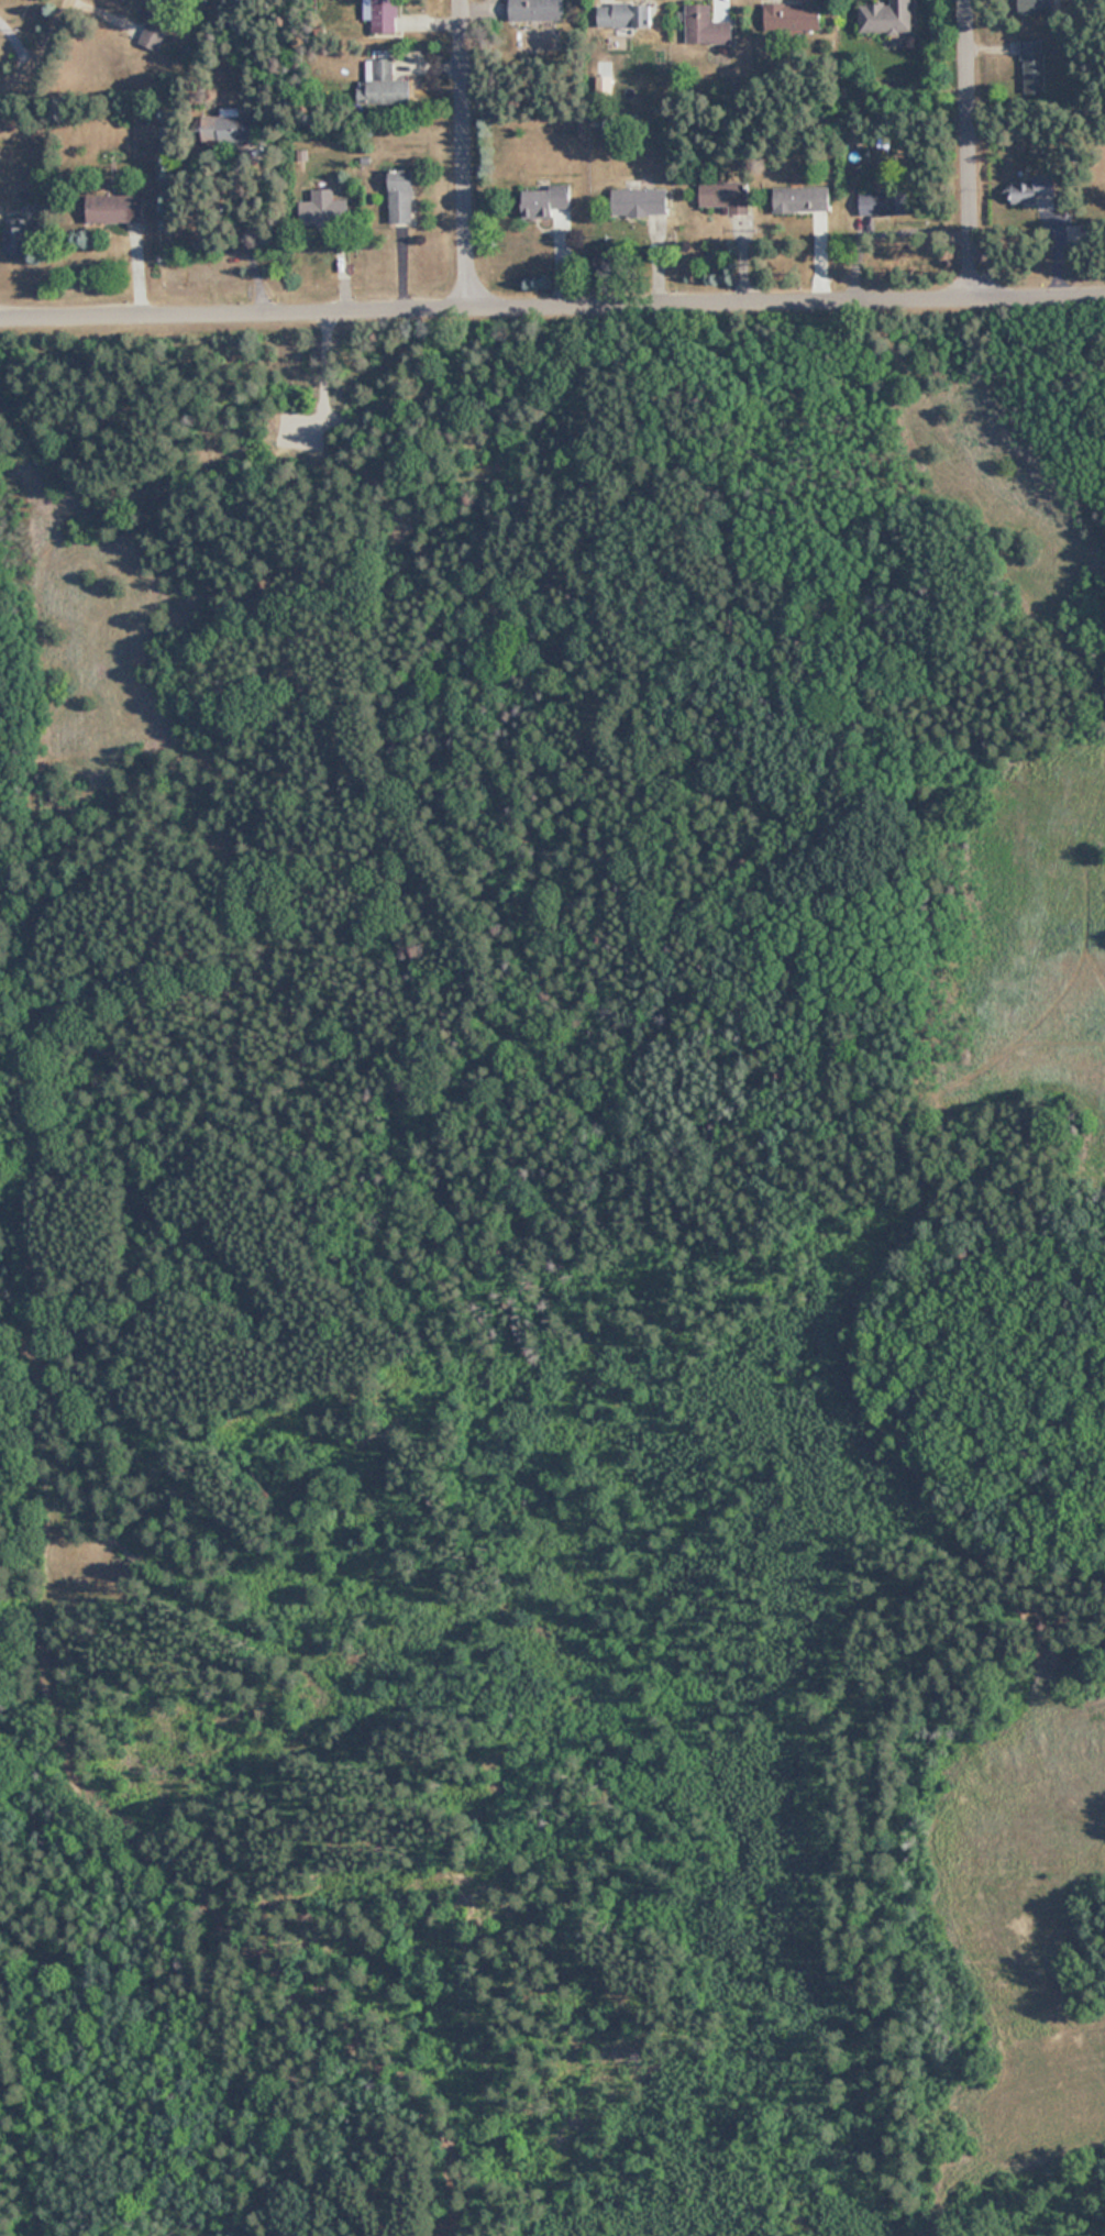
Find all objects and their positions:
building: (1038, 8)
building: (537, 10)
building: (382, 15)
building: (625, 16)
building: (792, 18)
building: (886, 18)
building: (156, 21)
building: (706, 27)
road: (13, 46)
road: (36, 47)
building: (1032, 66)
building: (384, 85)
building: (610, 132)
road: (973, 150)
road: (469, 155)
building: (1034, 189)
building: (726, 196)
building: (401, 197)
building: (800, 199)
building: (544, 201)
building: (639, 202)
building: (118, 208)
building: (876, 209)
building: (325, 211)
road: (242, 238)
building: (16, 239)
road: (552, 309)
road: (246, 472)
road: (36, 1182)
road: (875, 1214)
park: (553, 1270)
road: (244, 1985)
road: (456, 2234)

